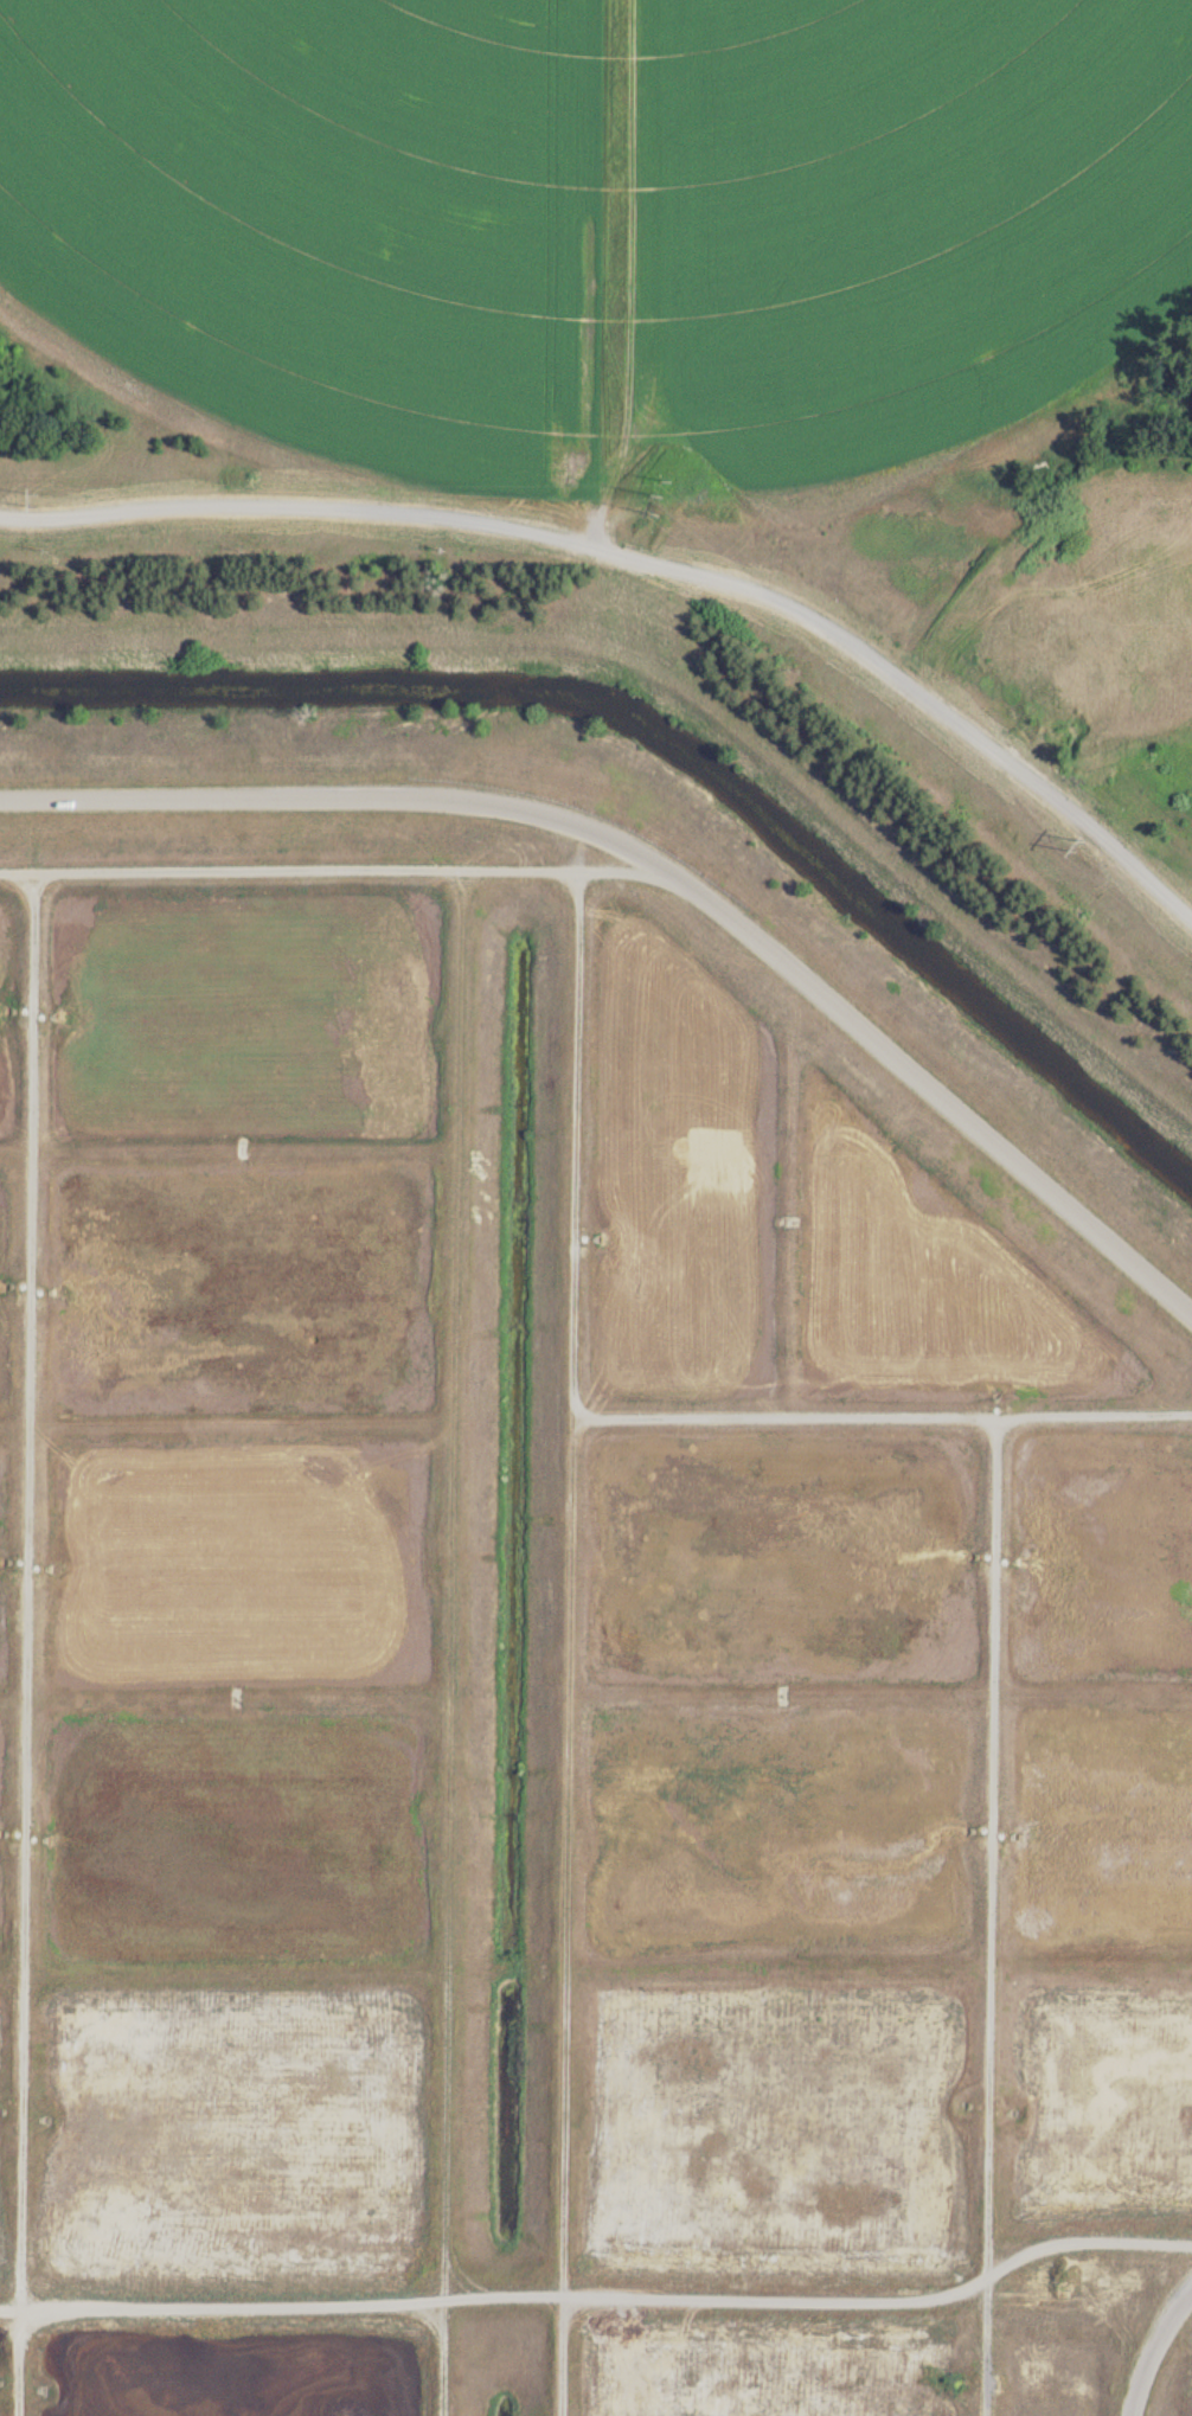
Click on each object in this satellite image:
power tower: (668, 494)
power tower: (37, 495)
power tower: (1081, 844)
road: (669, 863)
road: (339, 873)
wastewater plant: (596, 1207)
road: (1156, 2353)

